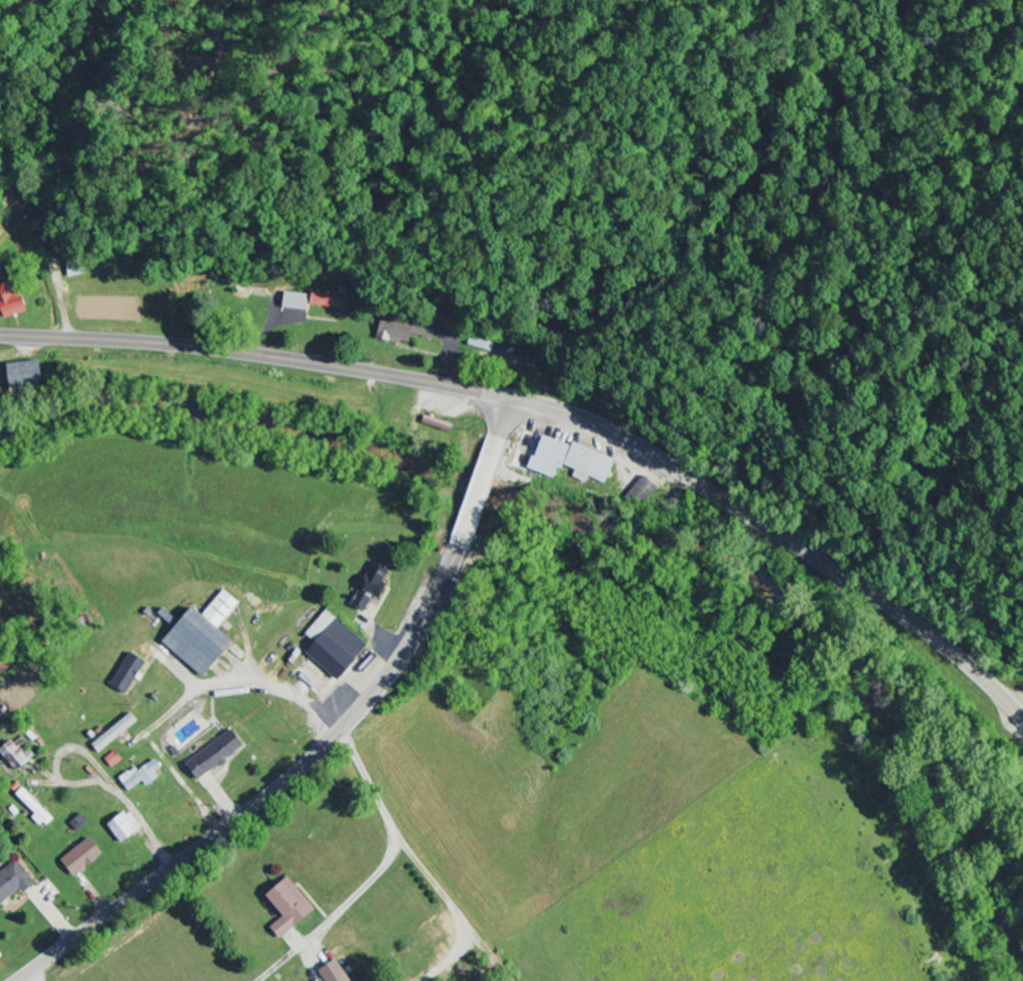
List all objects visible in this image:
building: (16, 301)
building: (299, 302)
building: (327, 302)
building: (404, 333)
building: (32, 375)
road: (556, 412)
building: (576, 462)
building: (372, 595)
building: (208, 635)
road: (390, 639)
building: (338, 645)
building: (132, 672)
road: (292, 698)
building: (118, 733)
road: (330, 742)
building: (20, 754)
building: (220, 755)
building: (116, 759)
building: (147, 774)
road: (365, 784)
building: (37, 807)
road: (135, 810)
building: (129, 827)
building: (86, 857)
building: (16, 884)
building: (294, 908)
building: (338, 973)
road: (33, 977)

